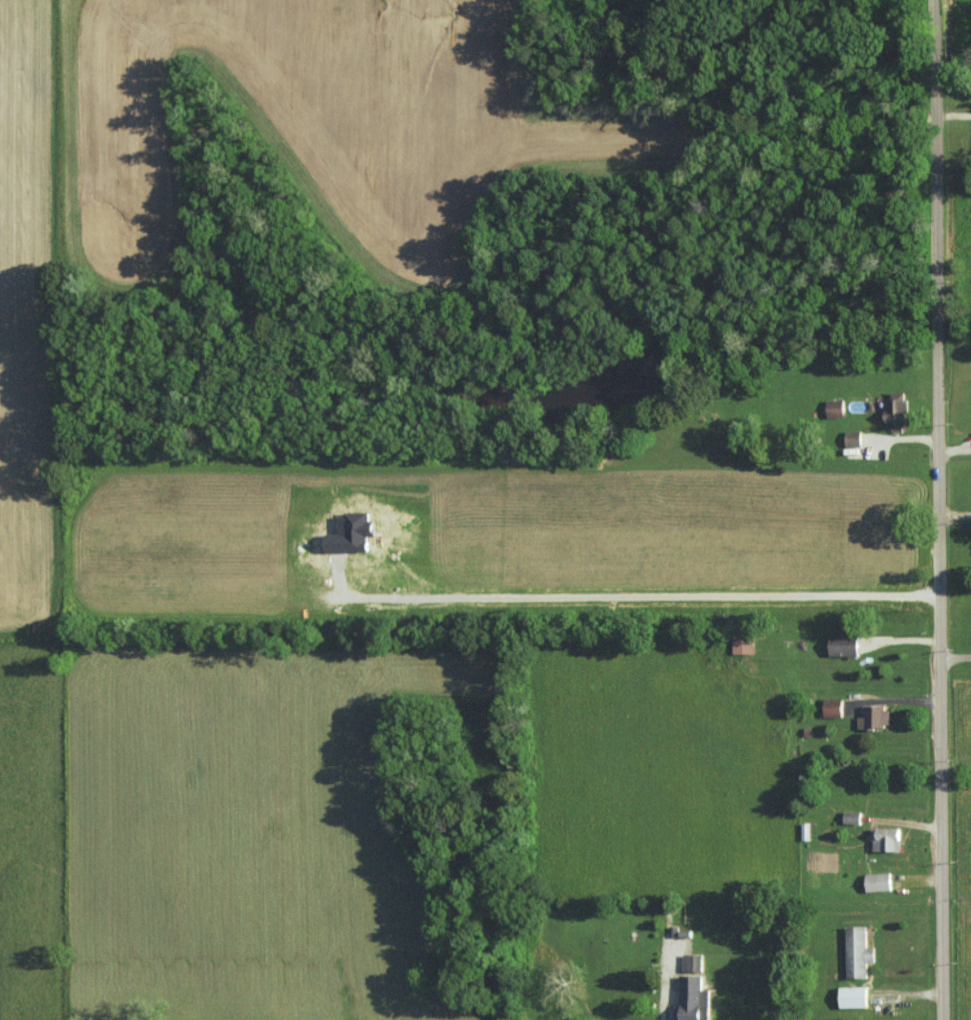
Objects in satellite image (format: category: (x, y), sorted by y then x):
building: (836, 408)
building: (896, 410)
building: (853, 438)
road: (932, 510)
road: (952, 514)
building: (844, 644)
building: (743, 645)
road: (952, 657)
building: (833, 706)
building: (875, 716)
building: (852, 817)
building: (886, 838)
building: (878, 881)
building: (858, 951)
building: (692, 962)
building: (853, 996)
road: (657, 999)
building: (692, 999)

